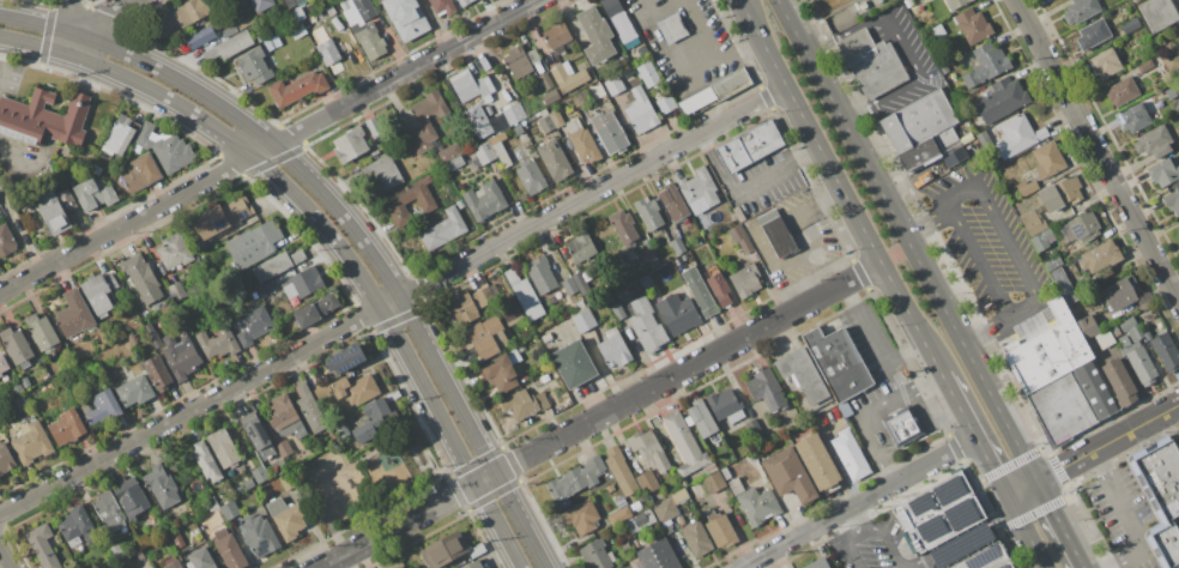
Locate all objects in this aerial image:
building: (379, 0)
building: (1133, 0)
building: (237, 2)
building: (291, 2)
building: (464, 2)
building: (912, 4)
building: (956, 4)
building: (261, 5)
building: (442, 6)
building: (359, 7)
building: (331, 10)
building: (1080, 10)
building: (300, 13)
building: (324, 13)
building: (1159, 13)
road: (105, 14)
building: (181, 16)
building: (318, 17)
road: (75, 18)
building: (406, 18)
road: (750, 19)
building: (243, 20)
building: (621, 23)
road: (42, 24)
building: (973, 25)
building: (1130, 25)
road: (791, 26)
building: (672, 28)
building: (297, 30)
building: (938, 30)
road: (845, 31)
building: (1093, 34)
building: (595, 35)
building: (201, 36)
building: (259, 36)
building: (557, 36)
building: (368, 40)
building: (272, 42)
road: (38, 46)
building: (229, 46)
road: (80, 47)
building: (642, 50)
road: (737, 52)
building: (328, 53)
building: (991, 59)
building: (1172, 60)
building: (519, 61)
building: (871, 62)
building: (1106, 62)
building: (954, 64)
building: (254, 66)
building: (1145, 66)
road: (406, 72)
building: (648, 74)
road: (687, 75)
building: (568, 77)
building: (546, 79)
road: (914, 80)
building: (728, 84)
building: (615, 85)
building: (467, 86)
building: (300, 89)
building: (1121, 91)
building: (1171, 93)
building: (550, 96)
building: (580, 98)
building: (1000, 99)
building: (695, 102)
building: (666, 104)
building: (641, 111)
building: (514, 114)
building: (556, 117)
building: (44, 119)
building: (1135, 119)
building: (427, 120)
building: (528, 121)
building: (498, 123)
building: (545, 123)
building: (373, 126)
building: (488, 128)
building: (921, 131)
building: (610, 132)
building: (521, 133)
building: (1017, 135)
building: (119, 138)
building: (581, 138)
building: (1154, 143)
building: (351, 144)
building: (748, 146)
building: (164, 147)
building: (500, 149)
road: (261, 150)
building: (448, 152)
building: (484, 152)
road: (1096, 152)
road: (23, 153)
road: (805, 153)
building: (555, 159)
building: (1047, 159)
building: (454, 163)
road: (717, 165)
building: (383, 171)
building: (140, 173)
building: (1163, 173)
building: (531, 176)
road: (763, 177)
building: (0, 185)
building: (1026, 187)
building: (1070, 189)
building: (699, 191)
road: (592, 193)
building: (93, 194)
building: (1048, 198)
building: (66, 200)
building: (484, 200)
building: (672, 201)
building: (1172, 201)
building: (395, 203)
road: (810, 203)
building: (459, 204)
road: (850, 207)
building: (53, 212)
building: (648, 212)
building: (738, 213)
building: (222, 217)
building: (1032, 222)
road: (125, 223)
road: (927, 223)
building: (1084, 226)
building: (1178, 226)
building: (623, 228)
building: (443, 229)
building: (1178, 230)
building: (776, 232)
building: (738, 238)
building: (6, 240)
building: (1041, 240)
building: (258, 241)
road: (1008, 243)
building: (581, 246)
building: (678, 246)
building: (174, 250)
road: (368, 252)
road: (894, 254)
building: (1099, 256)
building: (653, 259)
building: (678, 261)
road: (977, 261)
road: (351, 262)
building: (1053, 262)
building: (277, 265)
road: (920, 267)
building: (542, 274)
building: (141, 278)
building: (745, 279)
building: (646, 282)
building: (303, 283)
building: (581, 283)
building: (718, 285)
building: (1063, 285)
building: (128, 286)
building: (569, 286)
building: (267, 288)
building: (635, 288)
building: (700, 291)
road: (966, 291)
building: (99, 292)
building: (177, 292)
building: (1121, 292)
building: (524, 294)
road: (851, 295)
building: (484, 296)
road: (388, 301)
building: (581, 304)
building: (461, 308)
building: (167, 309)
building: (315, 309)
building: (618, 310)
building: (677, 313)
building: (74, 314)
building: (512, 314)
building: (584, 320)
building: (254, 325)
building: (646, 325)
building: (1087, 326)
building: (1131, 328)
road: (986, 332)
building: (43, 333)
building: (152, 334)
building: (485, 337)
road: (873, 337)
building: (132, 339)
building: (1104, 339)
building: (217, 342)
building: (17, 345)
building: (615, 349)
building: (1047, 351)
building: (1166, 351)
building: (181, 357)
road: (908, 358)
building: (345, 359)
building: (1138, 361)
building: (838, 362)
building: (4, 364)
building: (573, 364)
building: (502, 370)
building: (157, 371)
building: (804, 376)
building: (545, 377)
road: (927, 381)
building: (1119, 382)
building: (135, 389)
building: (349, 389)
building: (767, 389)
building: (1095, 389)
building: (18, 391)
building: (392, 395)
building: (552, 399)
building: (524, 404)
building: (726, 406)
building: (103, 407)
road: (189, 409)
building: (309, 409)
building: (1060, 409)
road: (861, 413)
road: (600, 416)
building: (284, 417)
building: (701, 418)
building: (375, 419)
building: (903, 425)
building: (67, 427)
building: (340, 429)
road: (974, 434)
building: (258, 436)
road: (1108, 442)
building: (31, 443)
building: (684, 443)
building: (224, 448)
building: (283, 448)
building: (648, 449)
building: (851, 454)
building: (6, 459)
building: (206, 461)
building: (818, 464)
building: (283, 465)
building: (708, 470)
building: (621, 471)
building: (725, 472)
building: (260, 475)
traffic signals: (495, 475)
building: (788, 475)
road: (891, 475)
park: (363, 477)
building: (288, 481)
building: (575, 481)
building: (647, 481)
building: (683, 482)
building: (714, 482)
traffic signals: (1038, 482)
building: (249, 483)
traffic signals: (476, 484)
building: (161, 485)
building: (734, 485)
building: (610, 488)
road: (1021, 489)
building: (132, 493)
building: (1160, 495)
building: (679, 496)
traffic signals: (1005, 497)
building: (621, 502)
building: (212, 503)
road: (858, 503)
building: (758, 504)
road: (1157, 506)
building: (665, 509)
building: (230, 510)
building: (937, 512)
building: (108, 513)
road: (1145, 514)
building: (618, 515)
parking lot: (1125, 515)
road: (1130, 515)
building: (582, 516)
building: (288, 518)
road: (860, 519)
building: (641, 521)
road: (1060, 524)
building: (77, 526)
building: (720, 528)
road: (870, 530)
road: (1024, 532)
building: (259, 536)
building: (696, 538)
building: (177, 539)
parking lot: (872, 545)
building: (42, 546)
building: (228, 549)
building: (449, 550)
building: (116, 552)
building: (140, 555)
building: (597, 555)
building: (658, 555)
road: (4, 558)
building: (201, 558)
building: (987, 558)
building: (635, 563)
building: (817, 563)
building: (174, 564)
building: (473, 564)
building: (1175, 566)
building: (398, 567)
road: (913, 567)
road: (915, 567)

